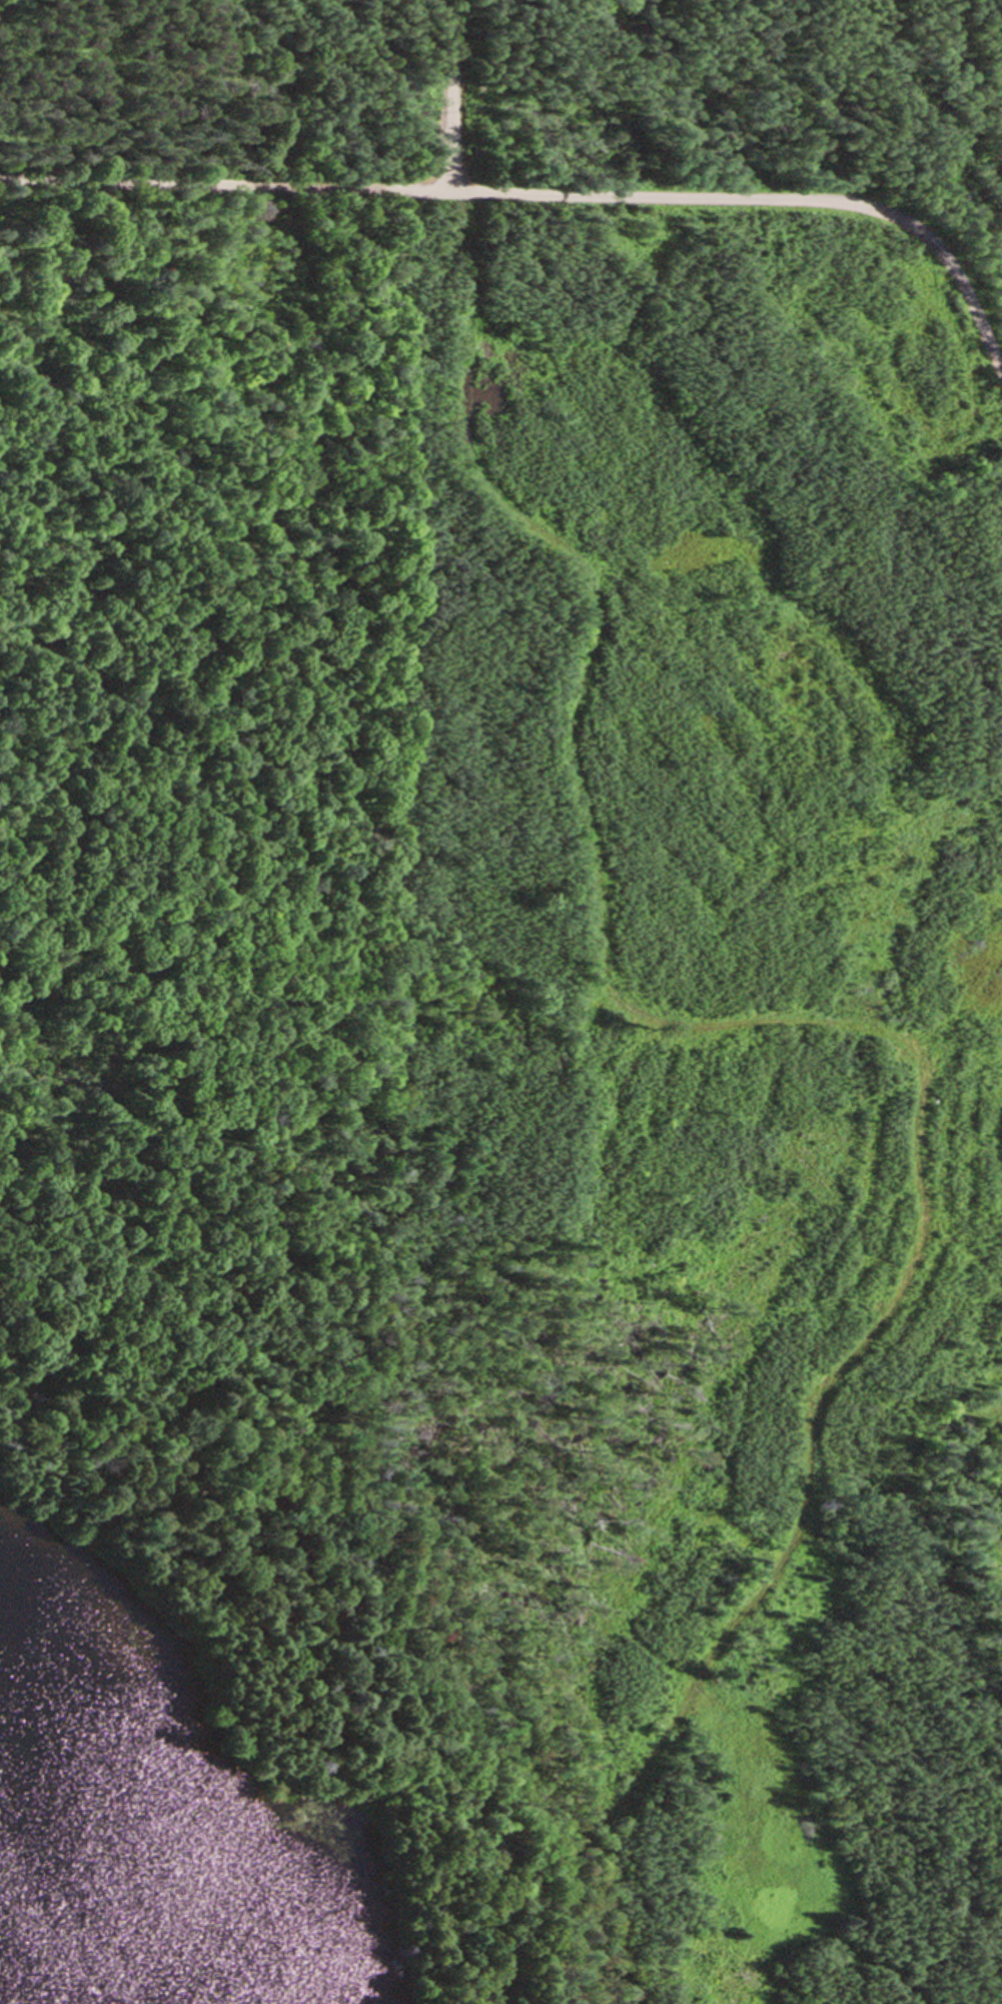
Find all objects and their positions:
road: (451, 95)
road: (546, 192)

